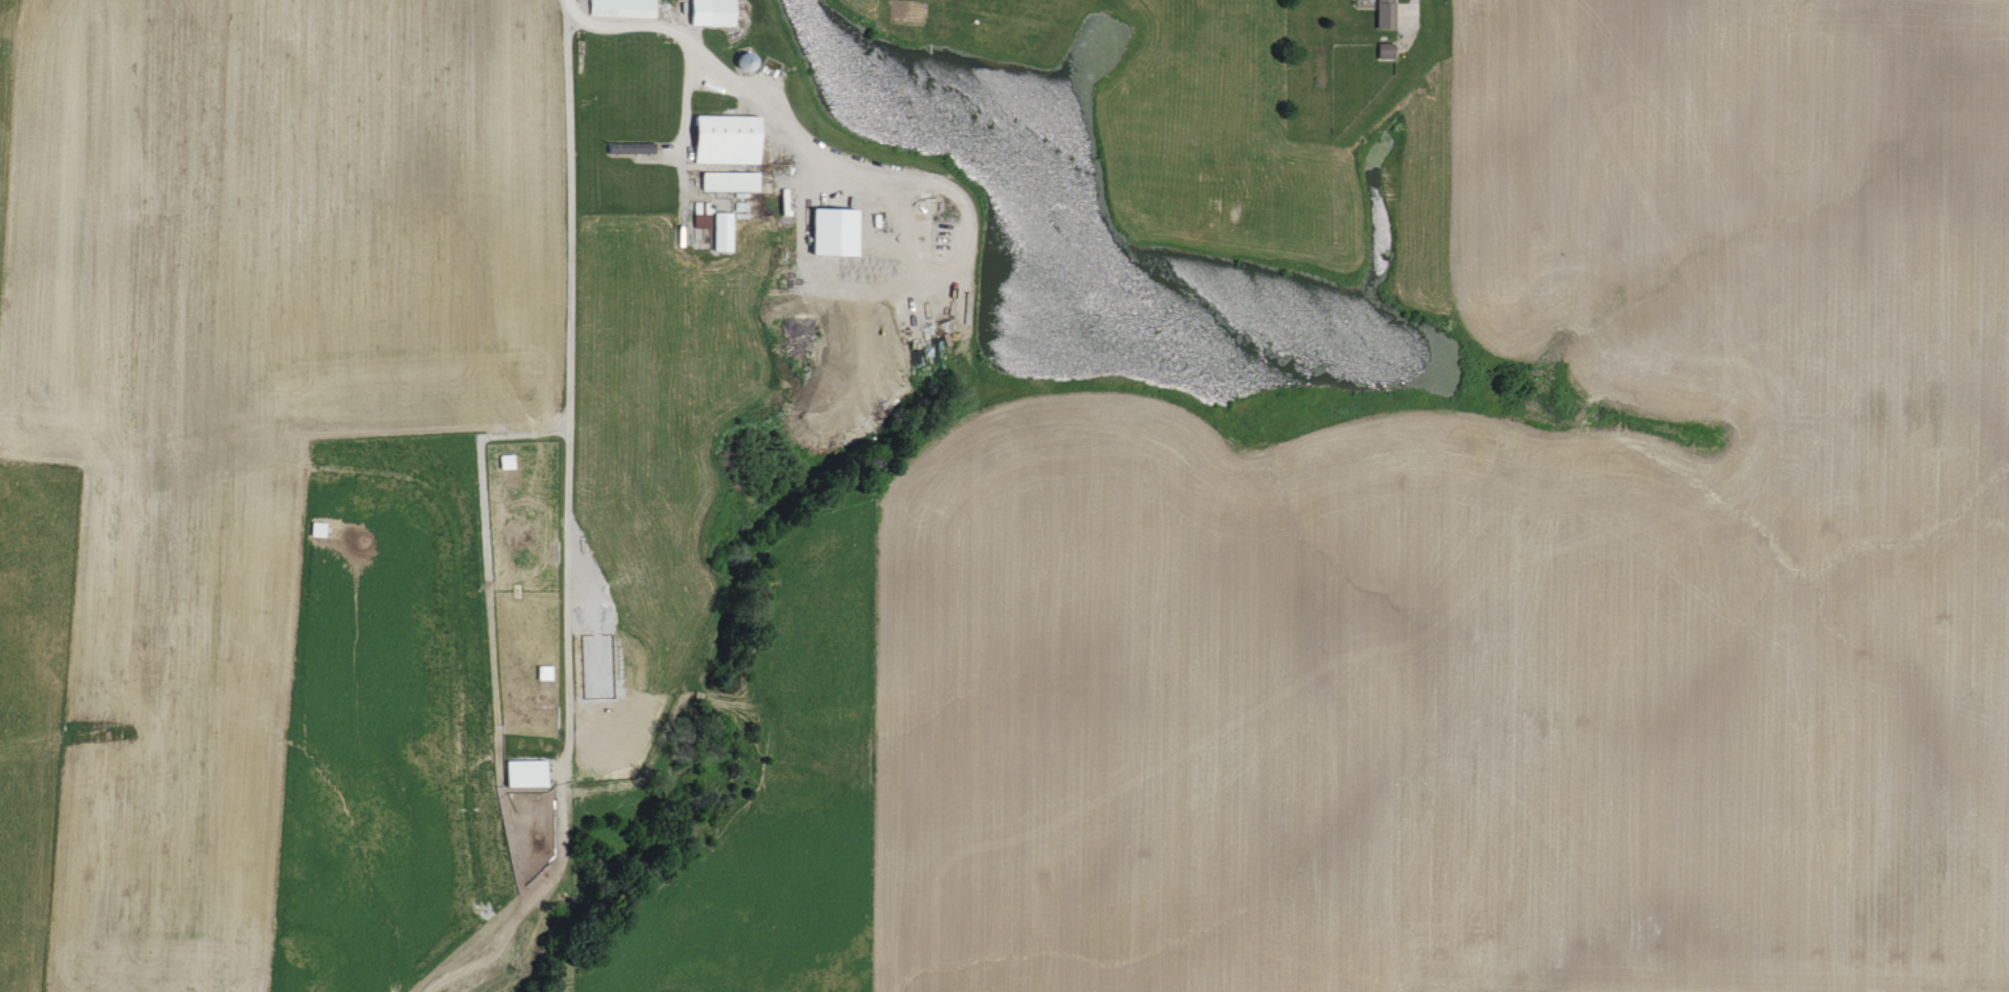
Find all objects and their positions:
road: (1412, 0)
building: (618, 8)
building: (708, 13)
building: (1382, 51)
building: (720, 139)
building: (726, 181)
building: (717, 231)
building: (826, 231)
building: (529, 773)

